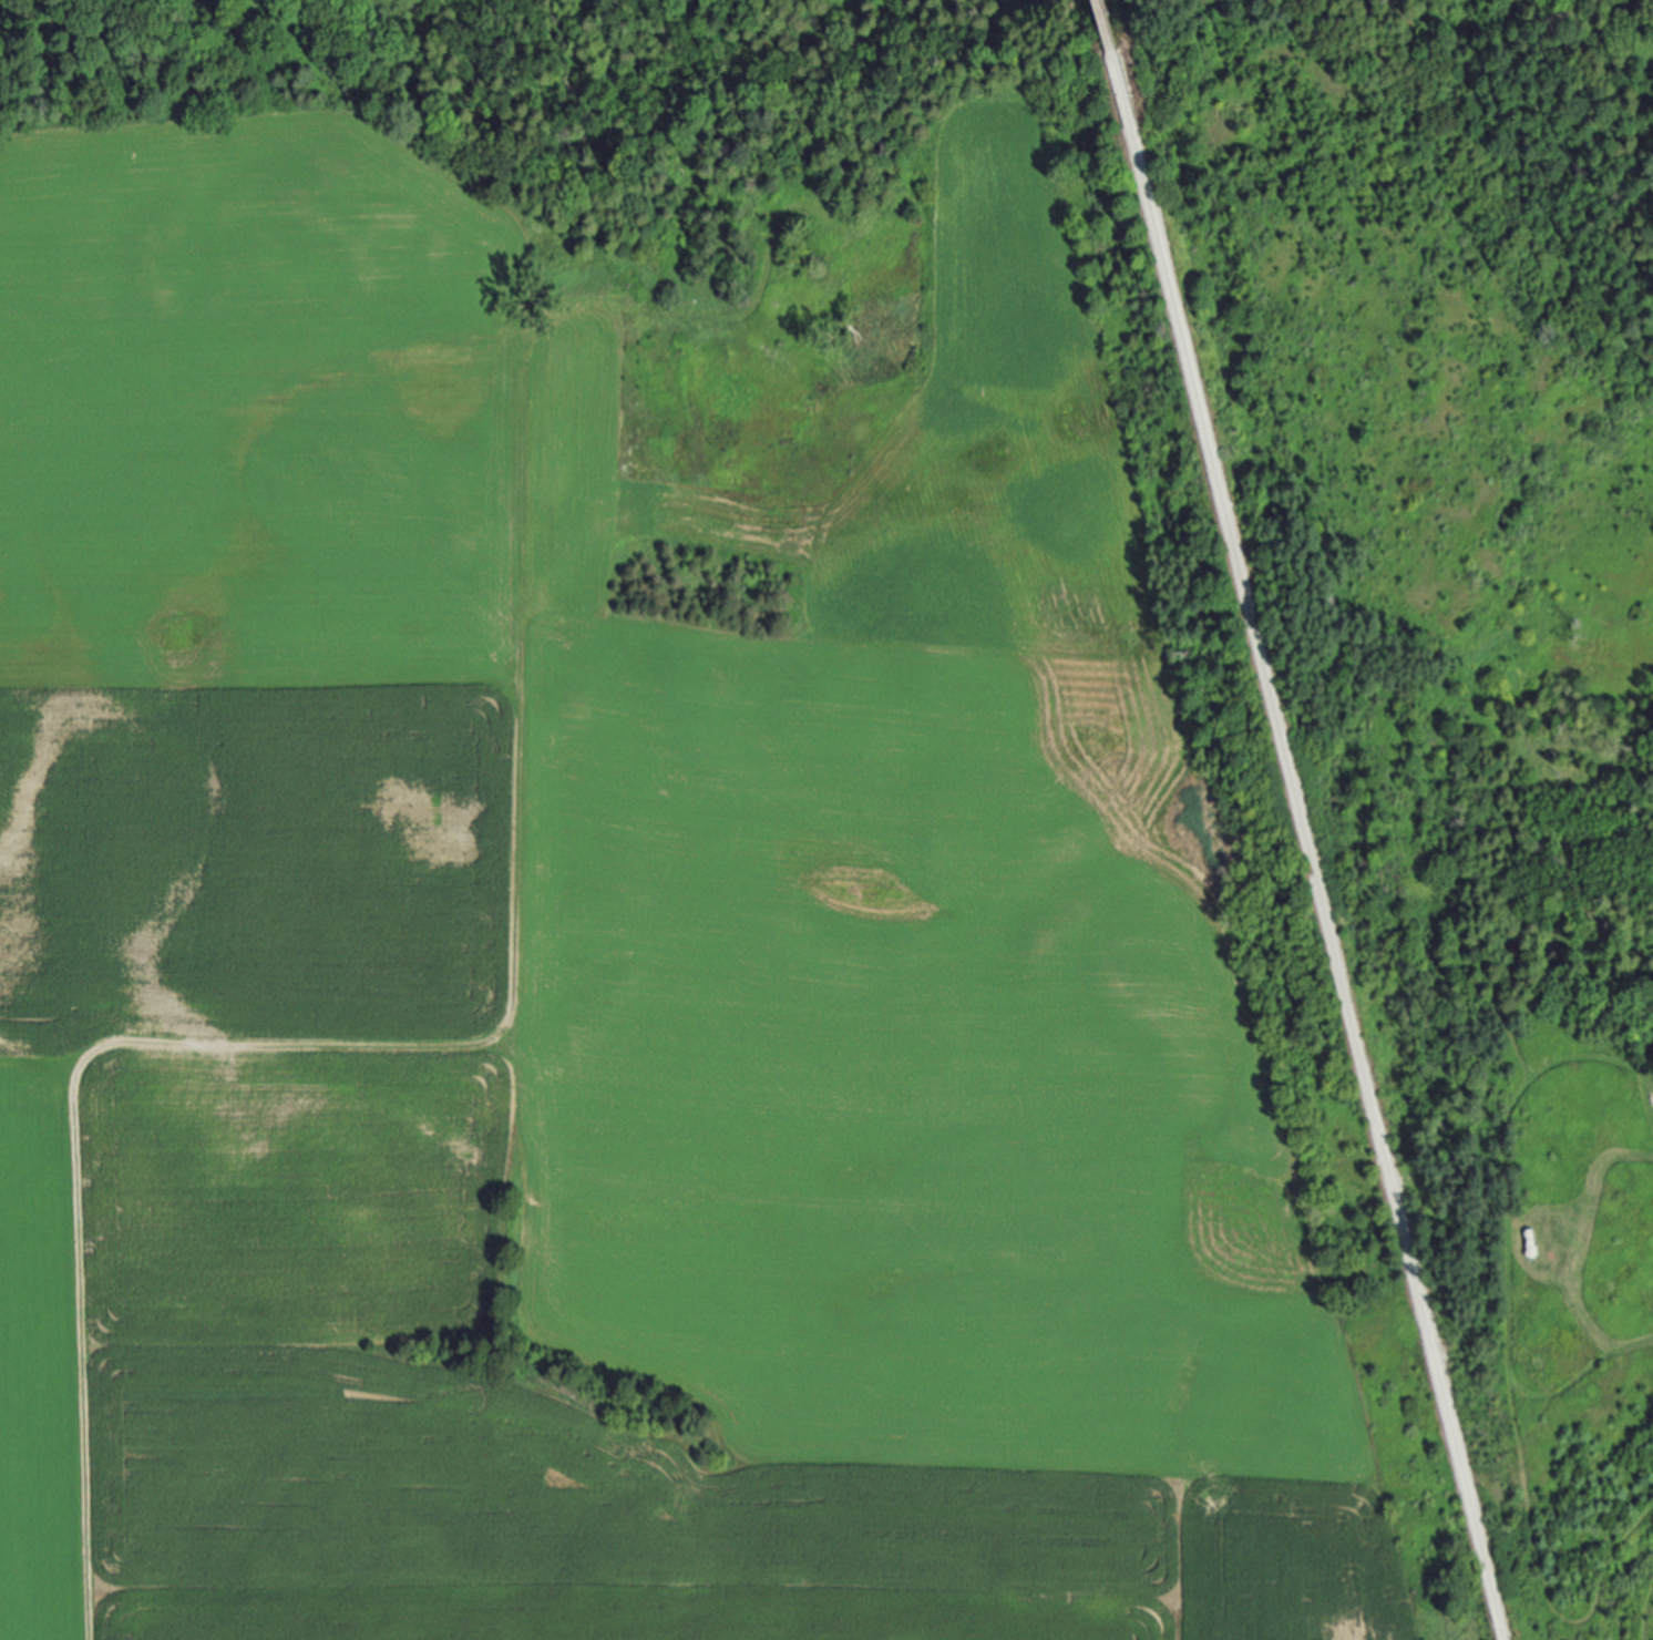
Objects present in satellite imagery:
road: (1107, 43)
road: (1312, 864)

